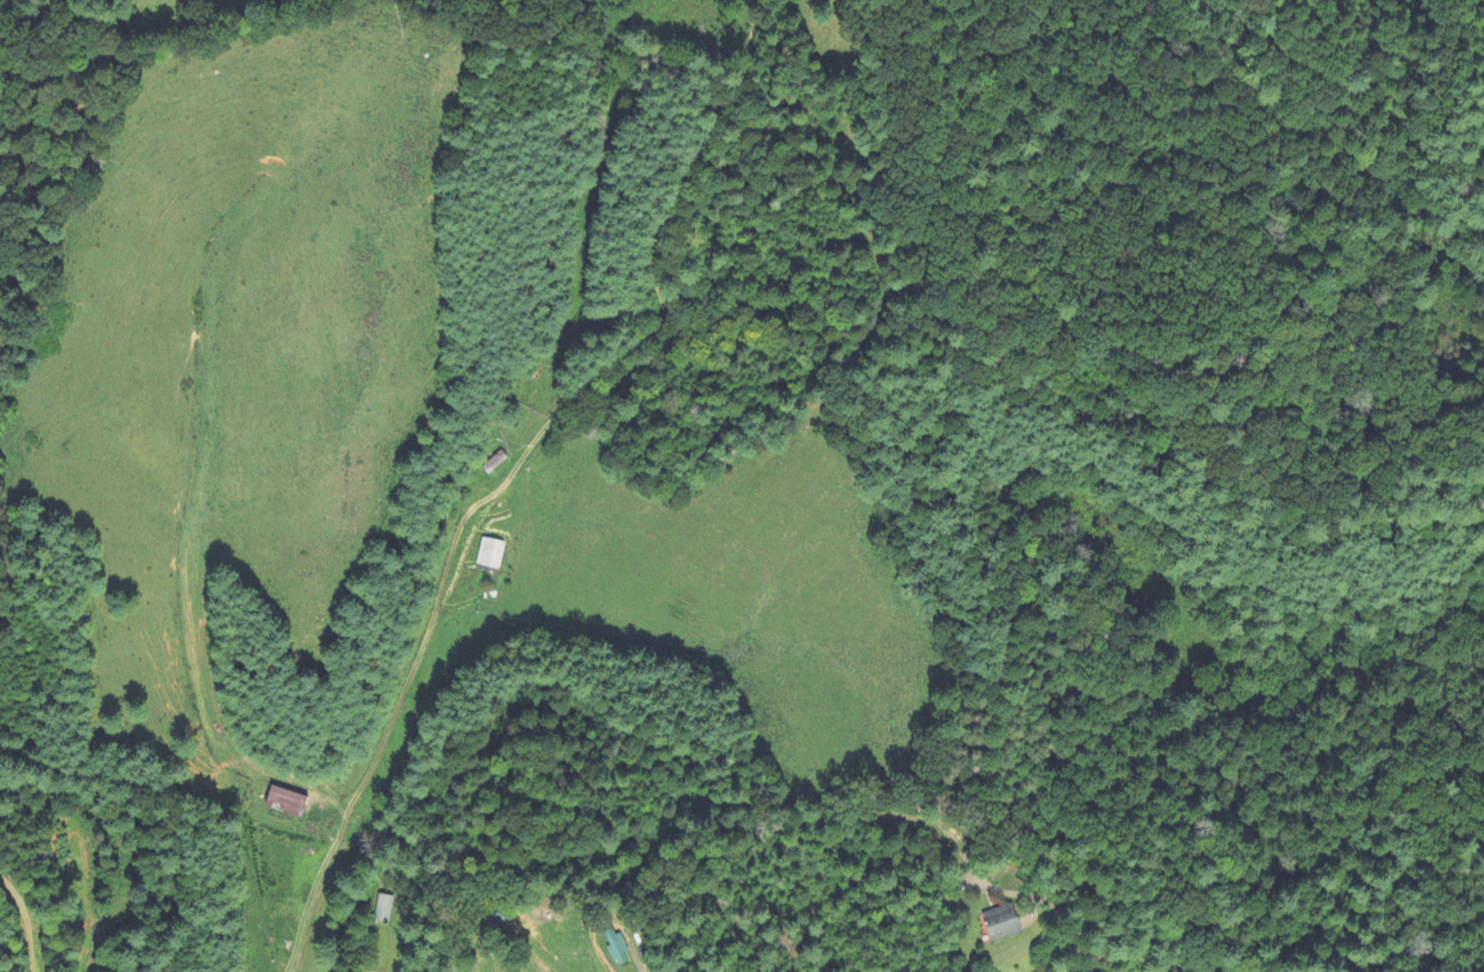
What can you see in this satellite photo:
building: (491, 553)
road: (430, 630)
building: (287, 802)
building: (384, 908)
building: (1002, 923)
road: (26, 936)
building: (619, 947)
road: (642, 970)

